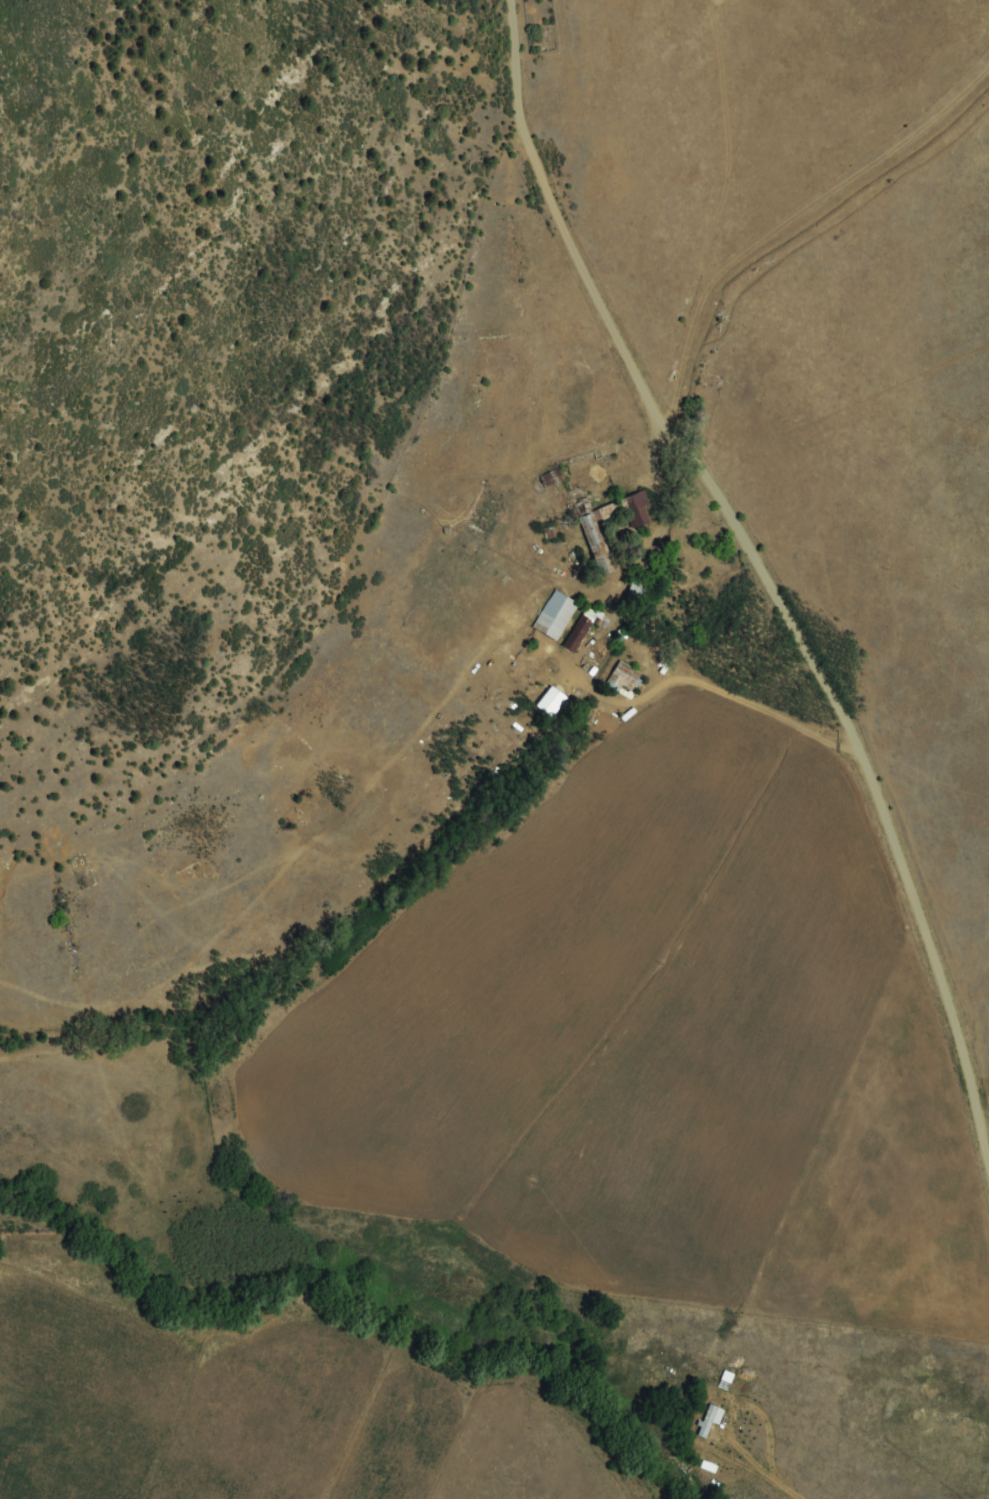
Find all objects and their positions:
park: (541, 26)
road: (821, 205)
building: (551, 480)
building: (614, 528)
road: (780, 554)
building: (637, 599)
building: (557, 616)
building: (581, 631)
building: (626, 678)
building: (553, 702)
building: (709, 1422)

